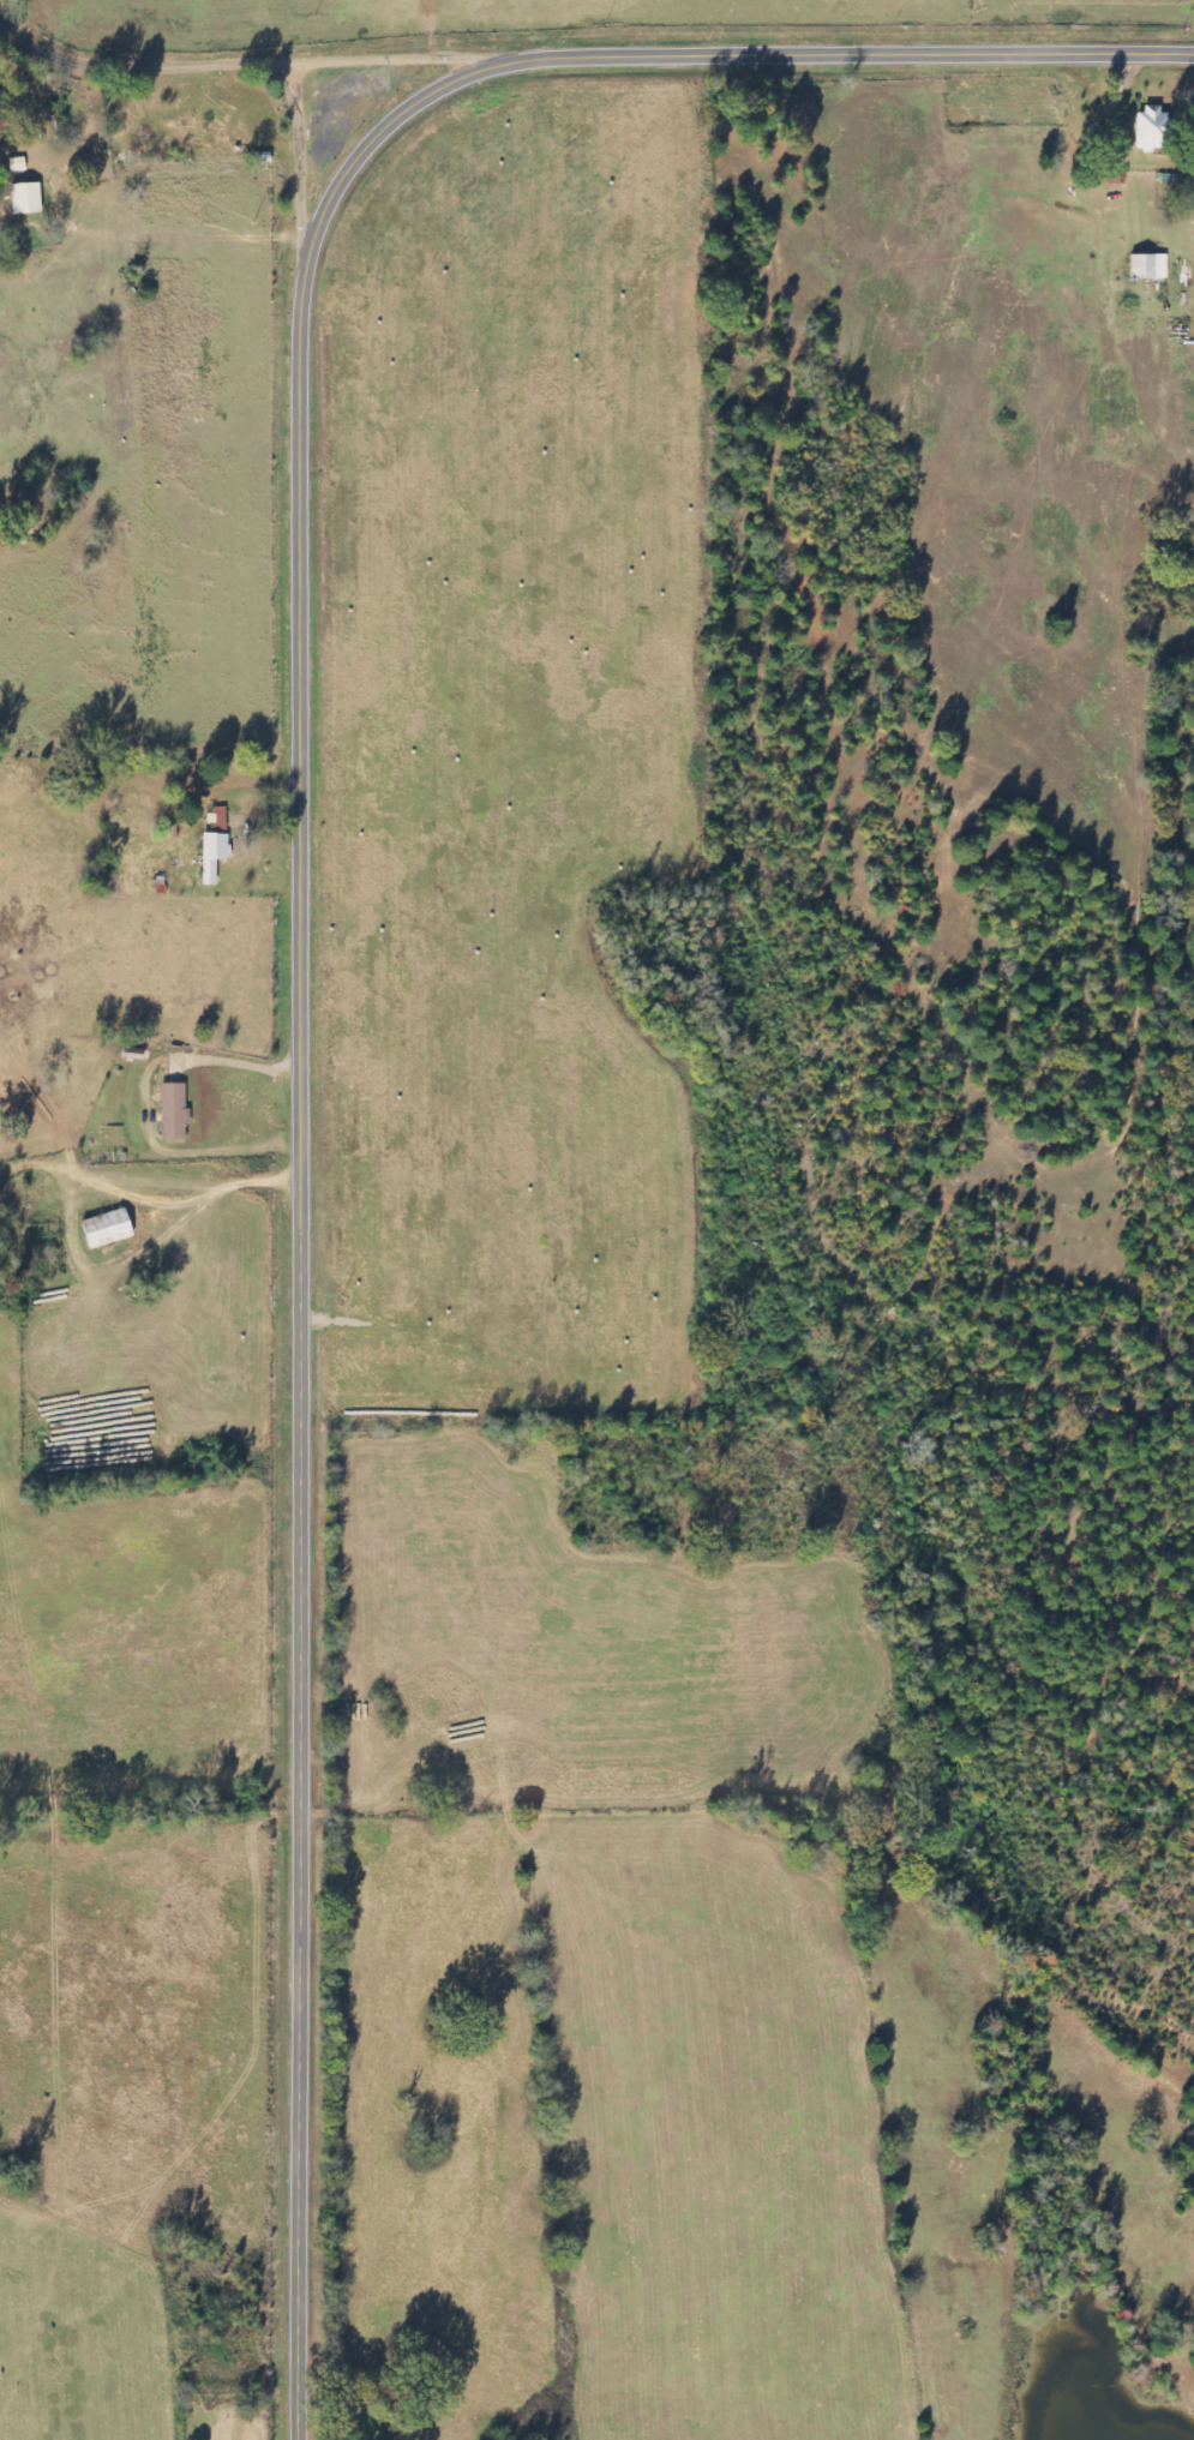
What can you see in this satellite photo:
road: (150, 53)
road: (409, 55)
building: (1151, 128)
building: (240, 132)
building: (204, 133)
road: (311, 150)
building: (1147, 265)
building: (212, 855)
road: (302, 858)
building: (173, 1111)
building: (106, 1229)

